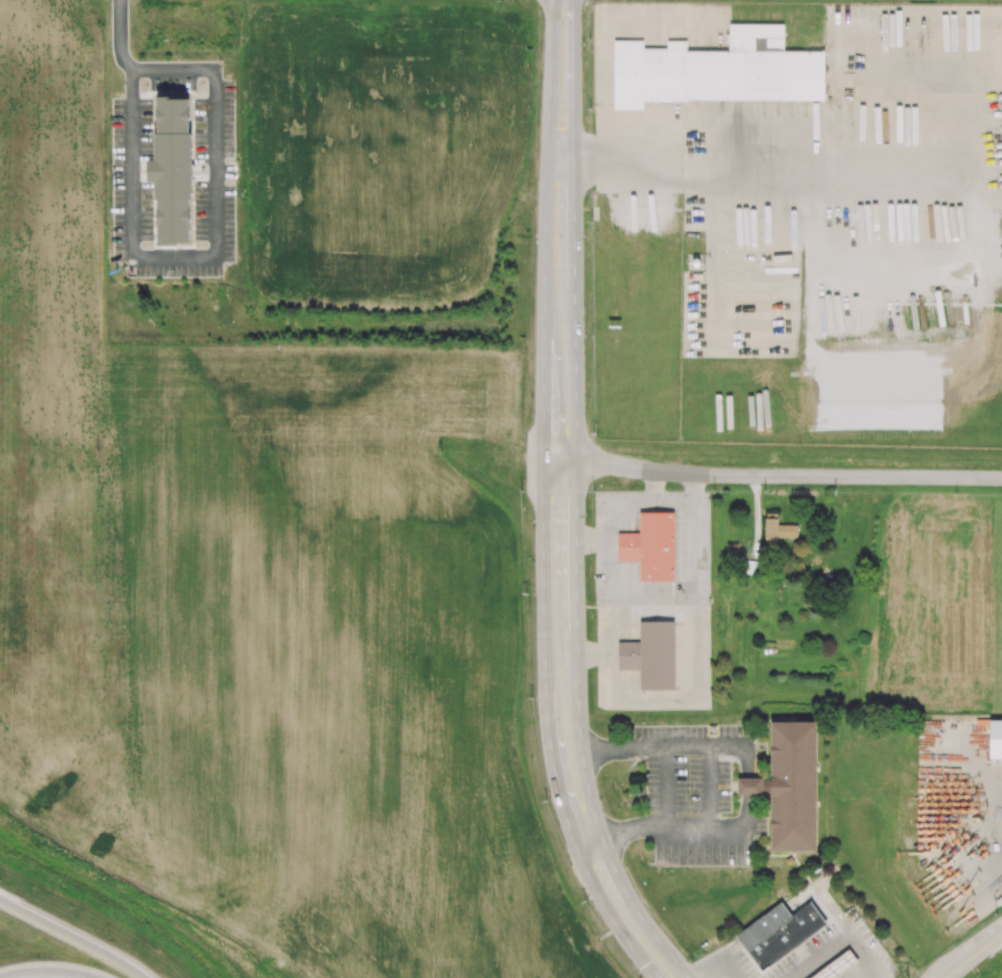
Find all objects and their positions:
road: (604, 32)
road: (120, 36)
building: (716, 70)
road: (695, 139)
road: (561, 154)
building: (693, 166)
parking lot: (174, 170)
building: (174, 171)
road: (212, 254)
road: (573, 270)
road: (773, 476)
road: (546, 501)
road: (675, 503)
road: (593, 540)
road: (611, 541)
building: (651, 548)
road: (577, 598)
building: (652, 657)
road: (695, 671)
building: (996, 740)
road: (668, 748)
road: (724, 748)
road: (603, 751)
parking lot: (696, 773)
road: (749, 778)
building: (755, 787)
road: (668, 788)
road: (712, 788)
building: (795, 788)
road: (599, 827)
road: (711, 828)
road: (621, 834)
parking lot: (702, 846)
road: (825, 896)
building: (765, 928)
road: (83, 931)
street lamp: (110, 936)
building: (786, 938)
parking lot: (811, 952)
road: (732, 953)
road: (867, 953)
road: (822, 955)
road: (974, 956)
building: (840, 967)
road: (714, 970)
road: (730, 970)
road: (881, 976)

